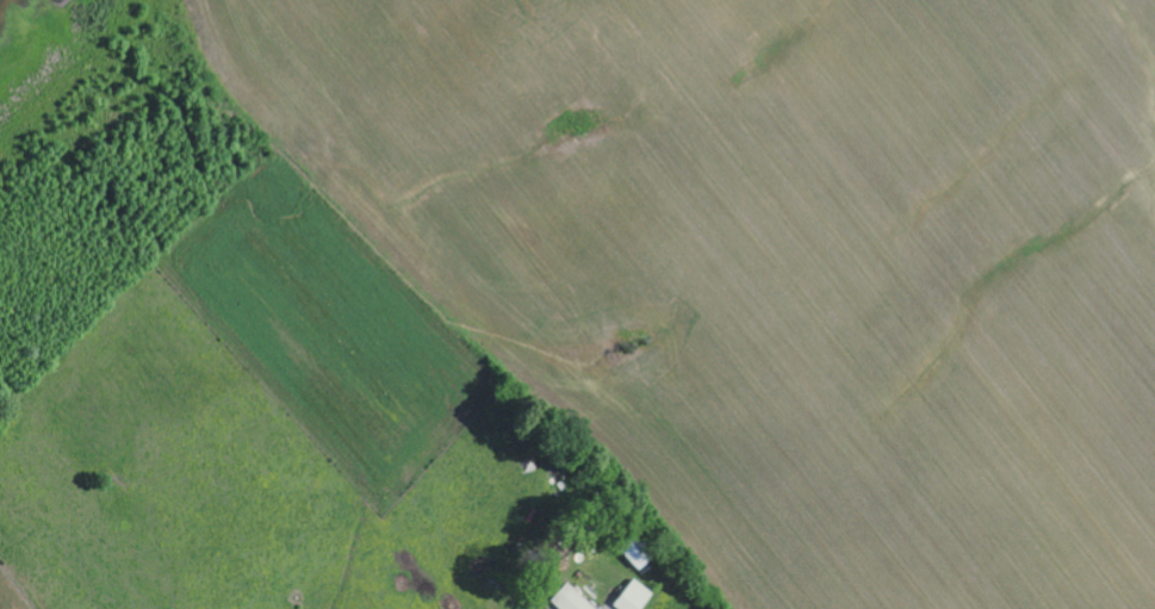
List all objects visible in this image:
building: (635, 596)
building: (573, 598)

